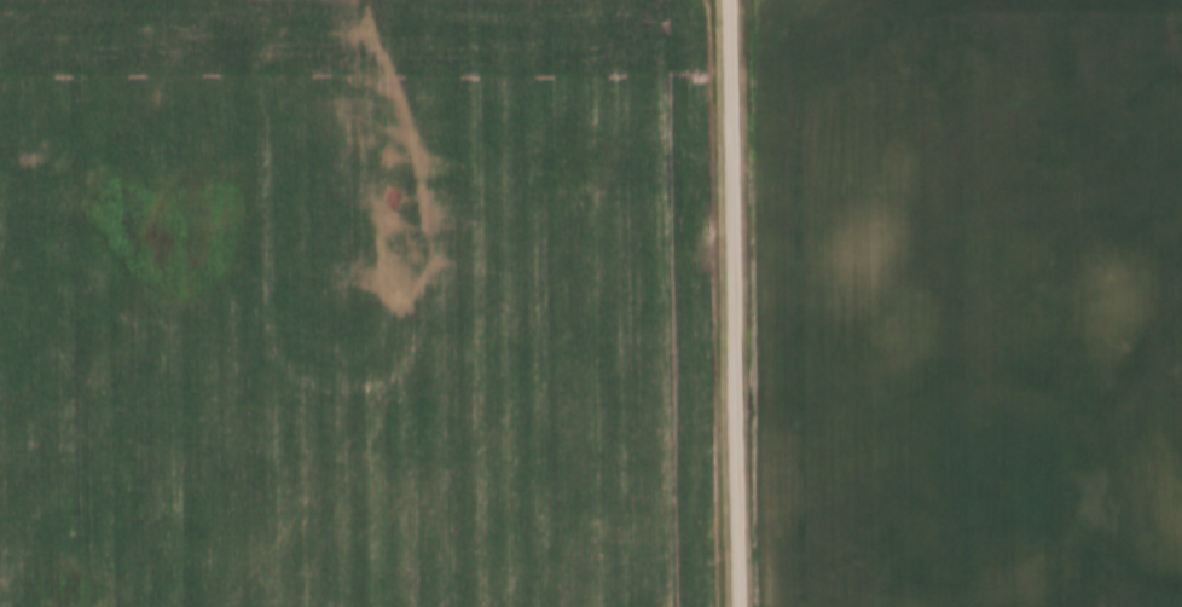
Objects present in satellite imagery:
road: (732, 303)

